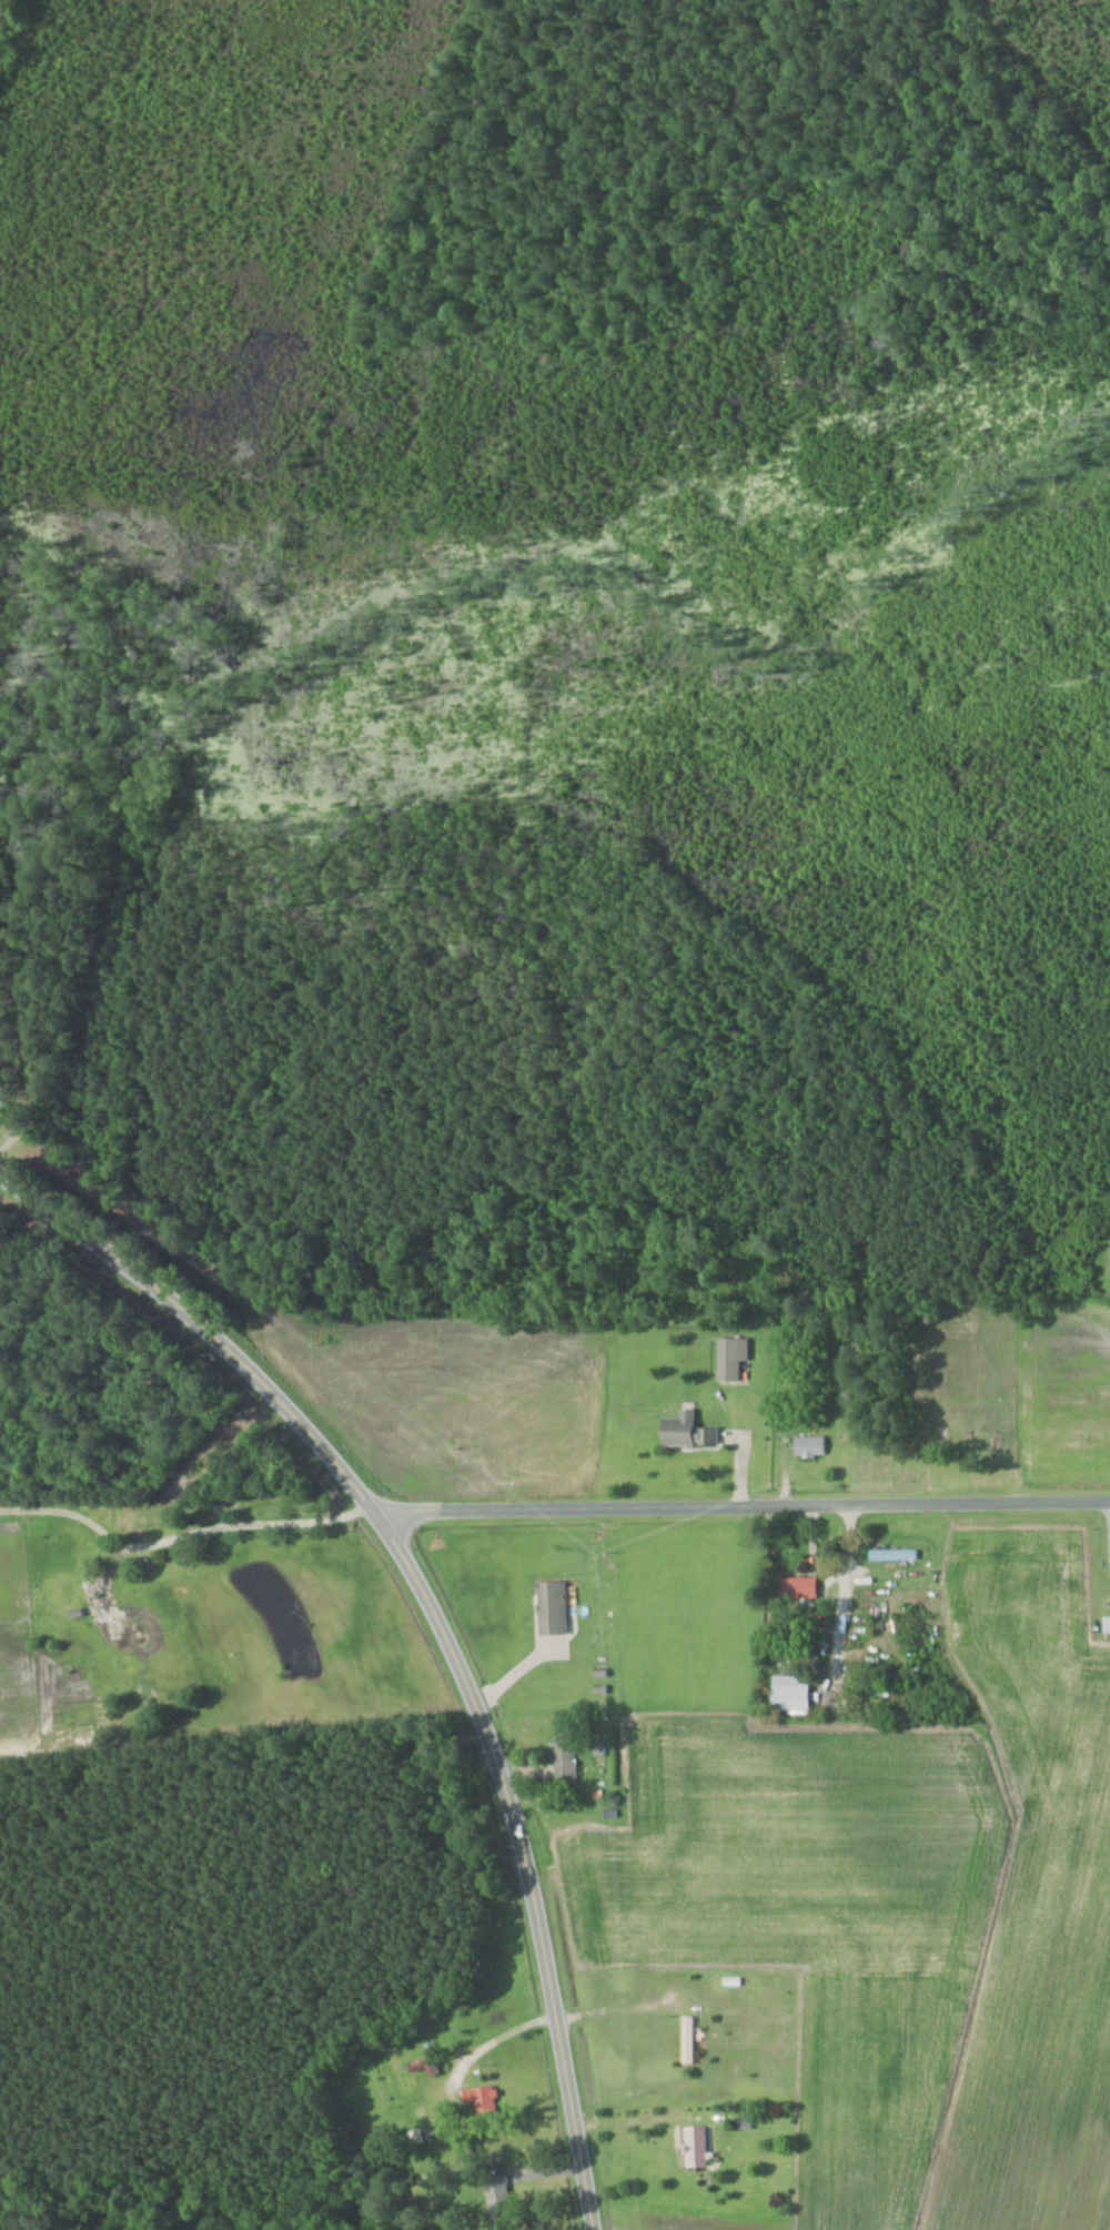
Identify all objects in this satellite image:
building: (729, 1358)
building: (683, 1431)
building: (807, 1445)
road: (740, 1504)
building: (891, 1554)
building: (793, 1587)
building: (548, 1608)
road: (438, 1619)
building: (1104, 1624)
building: (787, 1693)
building: (562, 1758)
building: (478, 2098)
building: (693, 2146)
building: (494, 2192)

